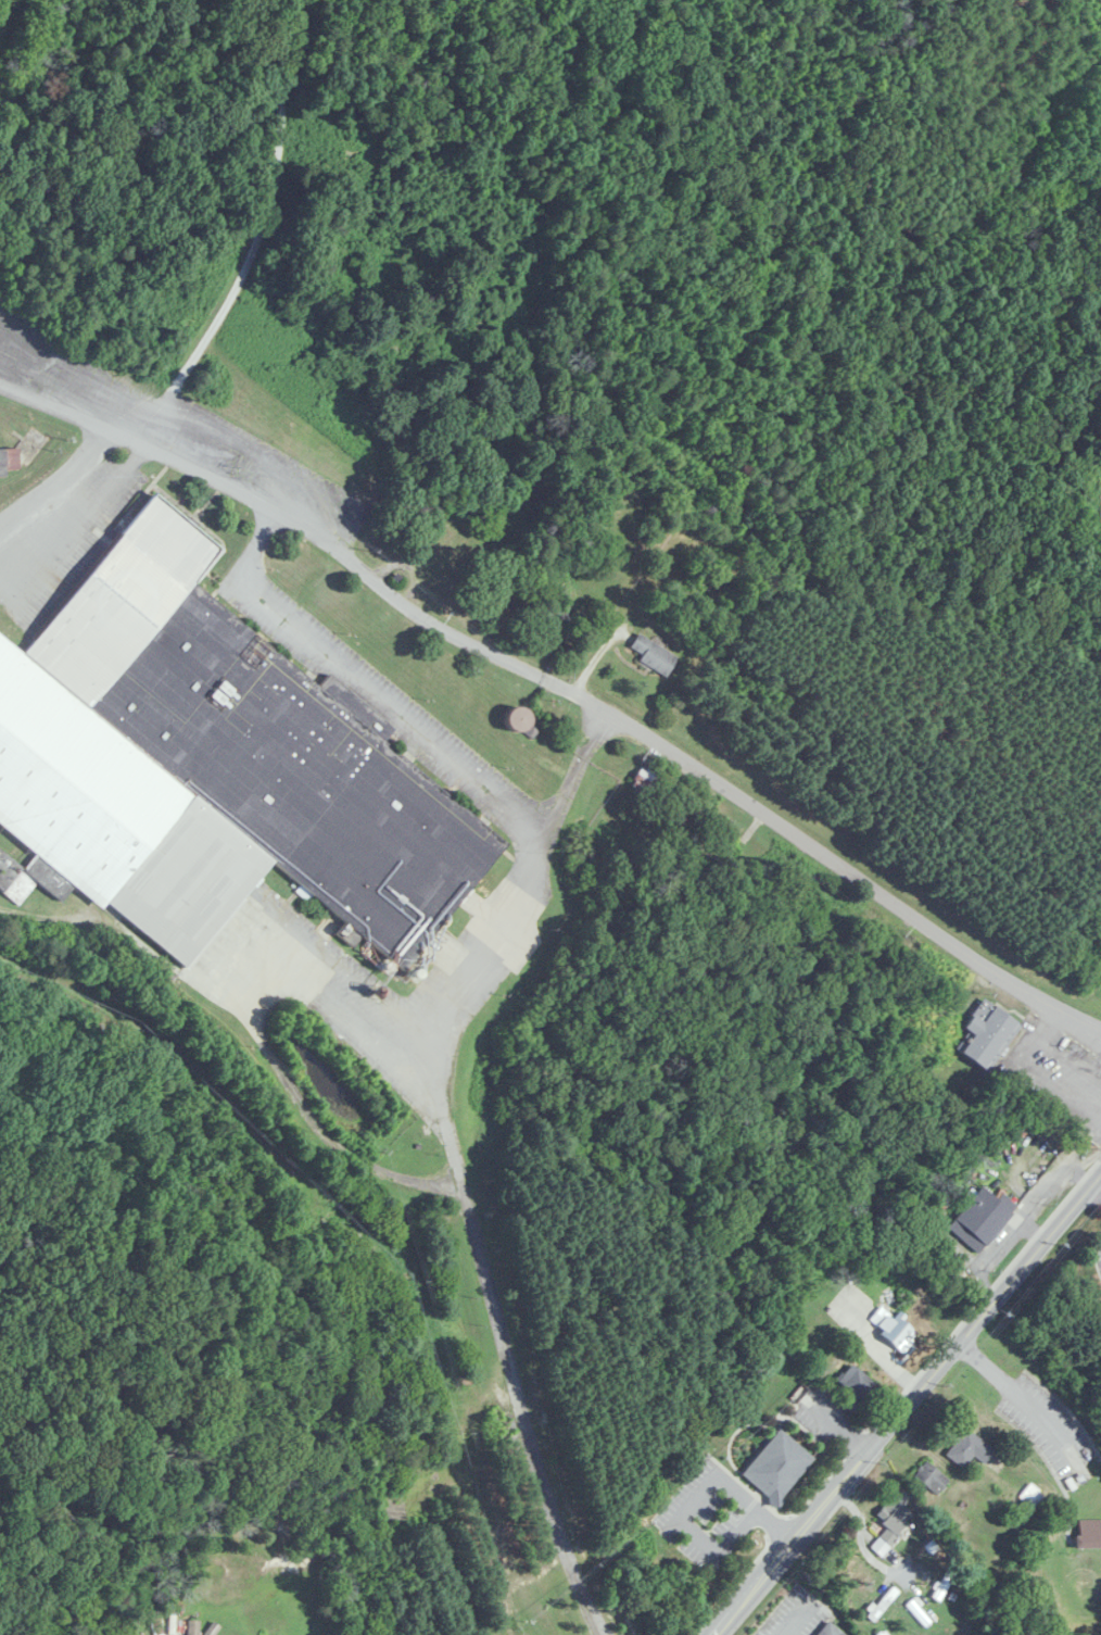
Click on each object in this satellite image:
road: (257, 247)
building: (9, 461)
road: (50, 481)
building: (654, 655)
road: (564, 691)
building: (517, 718)
road: (410, 725)
building: (211, 767)
building: (647, 784)
building: (729, 840)
road: (480, 953)
building: (988, 1033)
road: (258, 1036)
road: (1100, 1178)
building: (985, 1213)
building: (893, 1328)
road: (514, 1366)
building: (859, 1385)
road: (1016, 1391)
road: (897, 1399)
road: (907, 1405)
building: (495, 1432)
building: (969, 1449)
building: (777, 1467)
building: (932, 1479)
building: (1033, 1496)
road: (693, 1497)
building: (894, 1526)
building: (1089, 1534)
road: (861, 1542)
road: (788, 1626)
building: (192, 1627)
building: (841, 1632)

